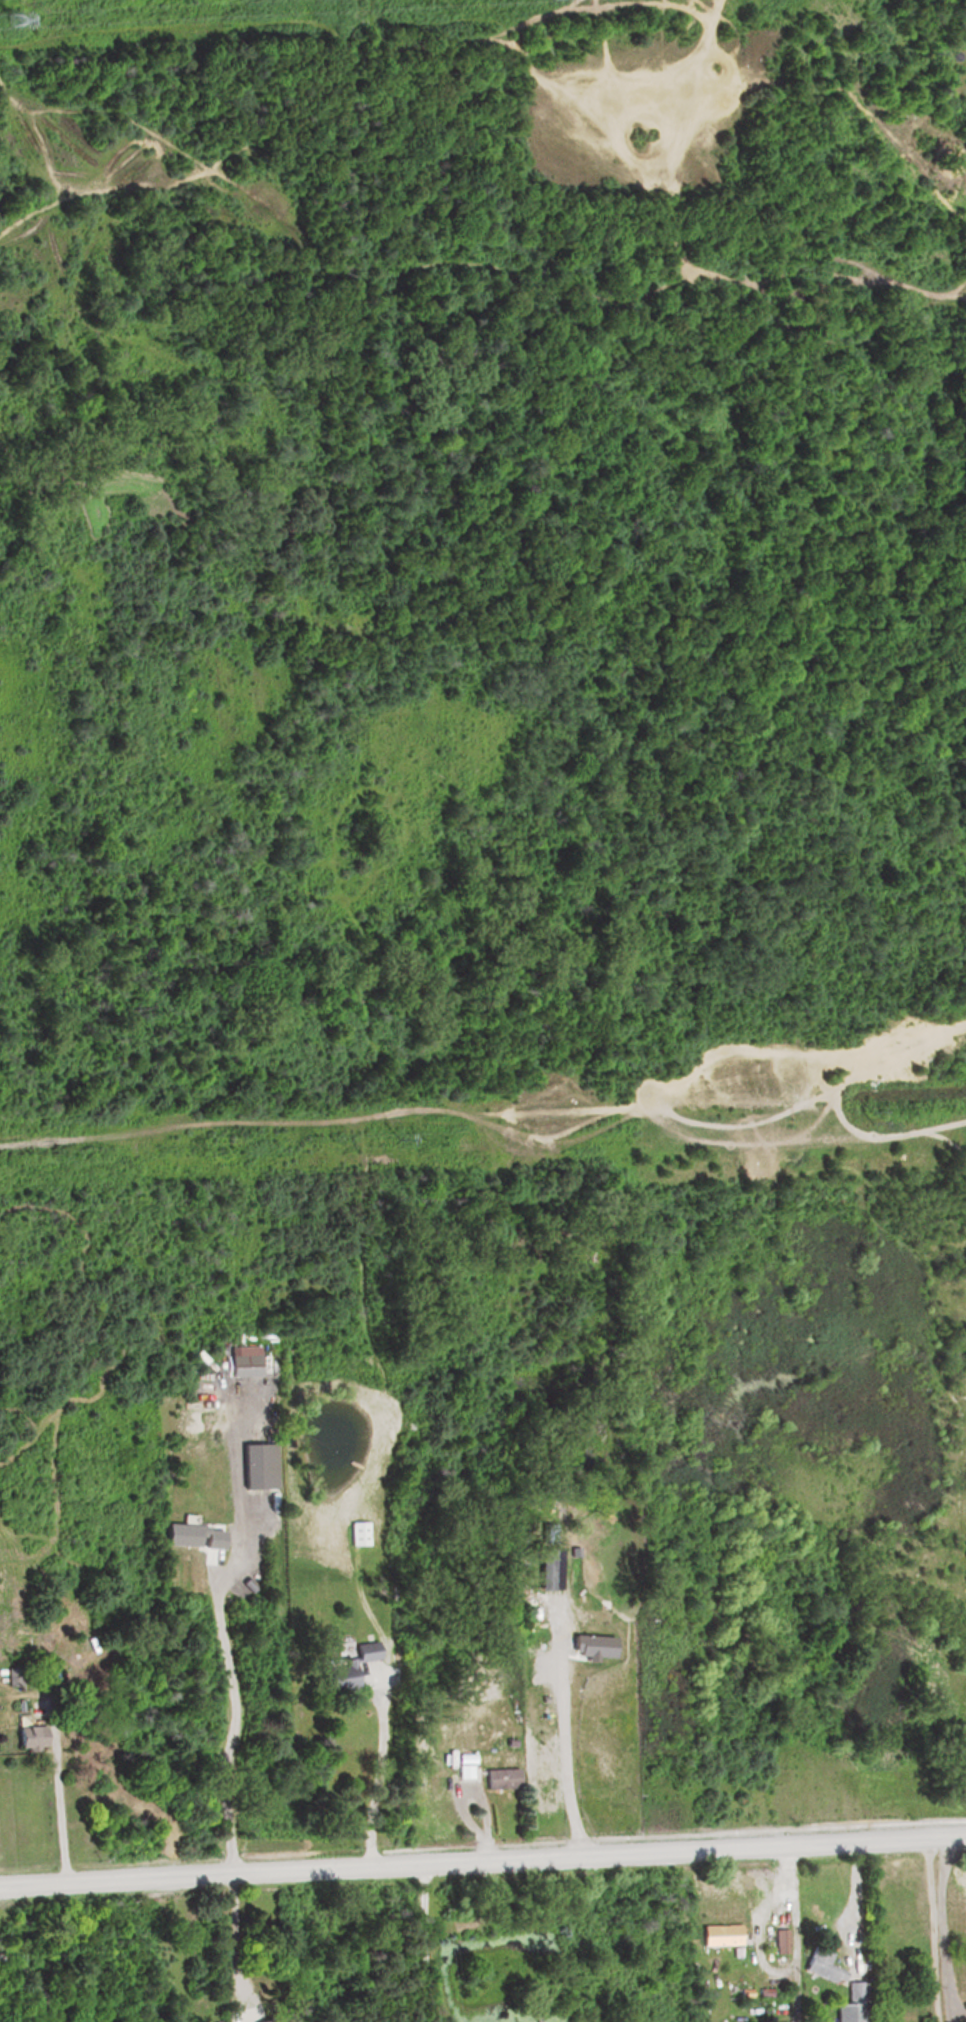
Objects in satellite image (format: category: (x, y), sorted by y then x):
power tower: (10, 19)
road: (284, 139)
power tower: (871, 1120)
power tower: (400, 1141)
building: (356, 1534)
building: (195, 1538)
building: (815, 1595)
building: (526, 1614)
building: (586, 1614)
building: (589, 1646)
building: (341, 1670)
road: (235, 1719)
building: (27, 1738)
road: (565, 1752)
road: (376, 1774)
building: (495, 1780)
road: (60, 1815)
road: (483, 1864)
road: (853, 1901)
road: (936, 1927)
building: (717, 1934)
building: (778, 1940)
road: (423, 1946)
building: (820, 1967)
building: (850, 2004)
road: (958, 2017)
road: (951, 2018)
building: (279, 2021)

